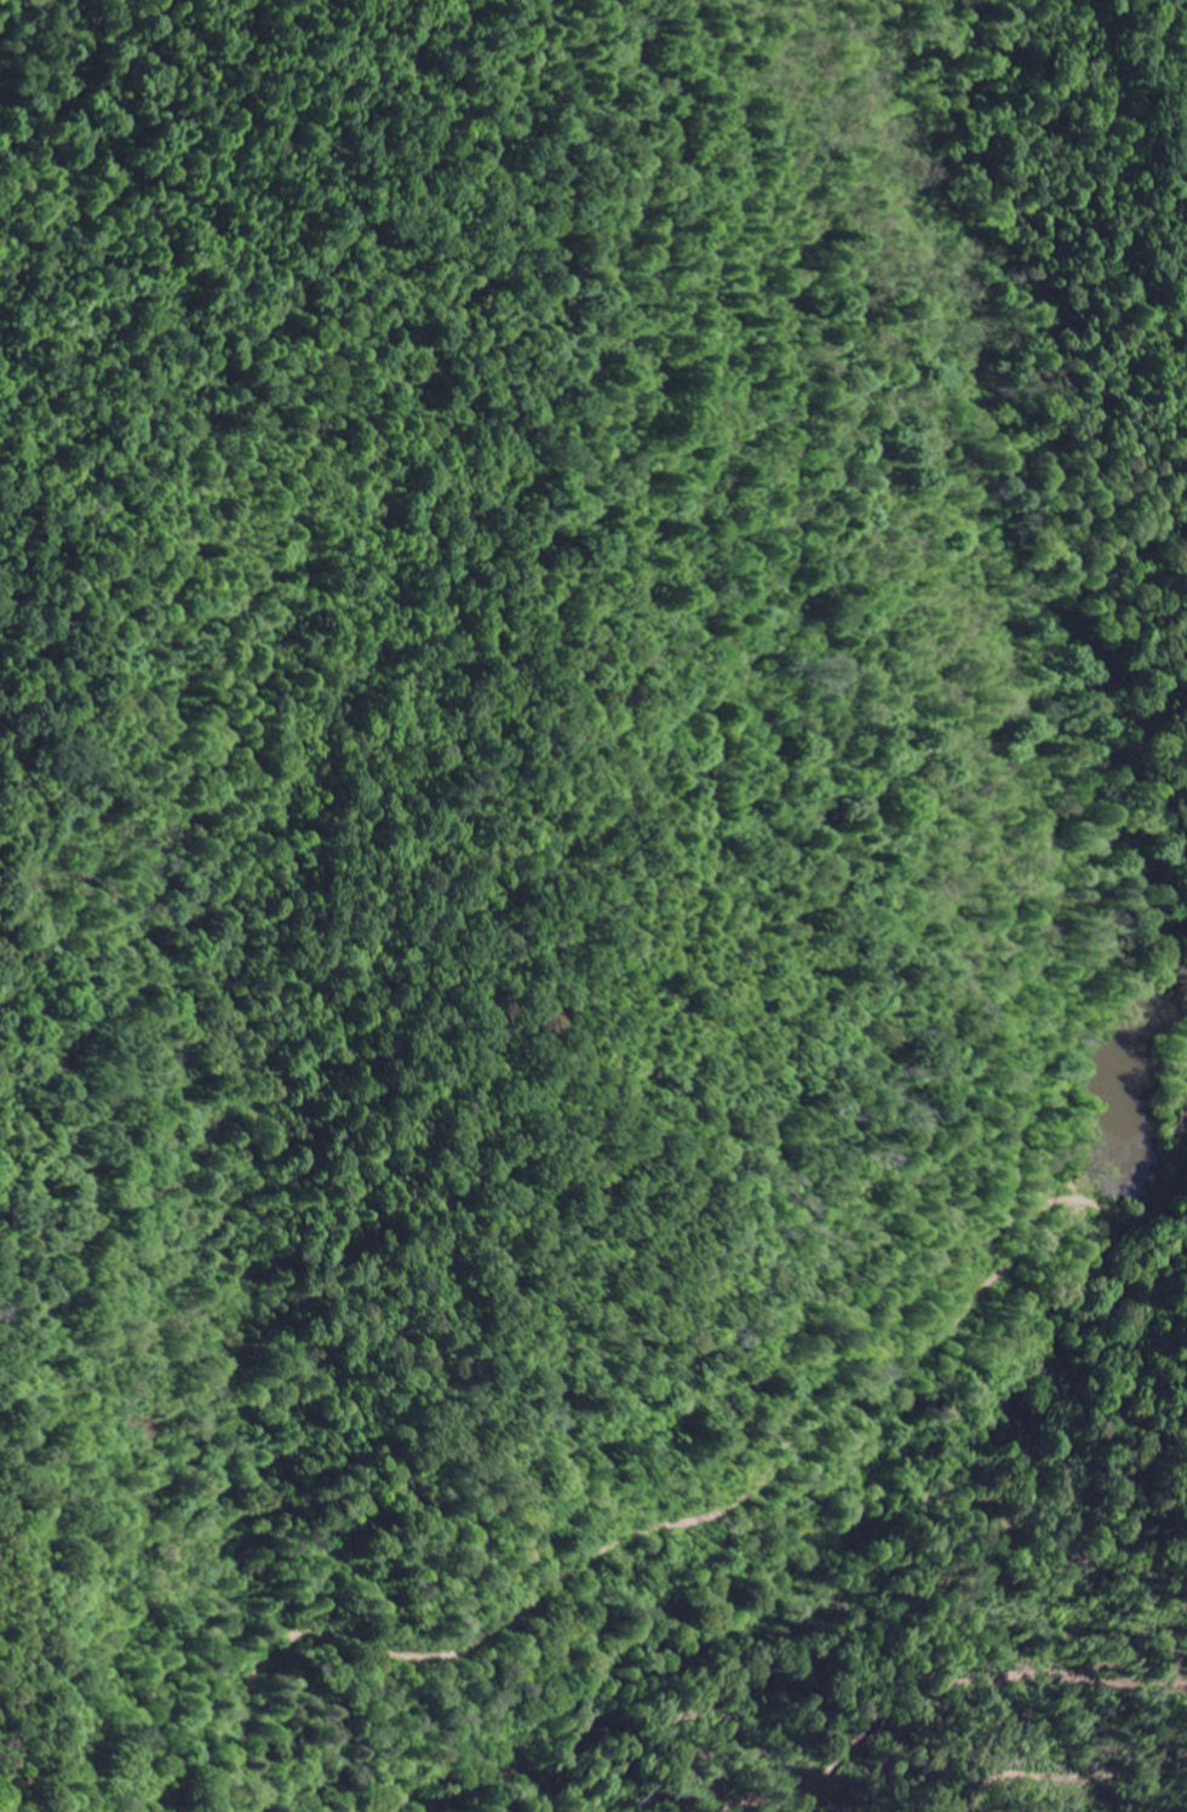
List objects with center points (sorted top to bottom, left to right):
road: (246, 1719)

